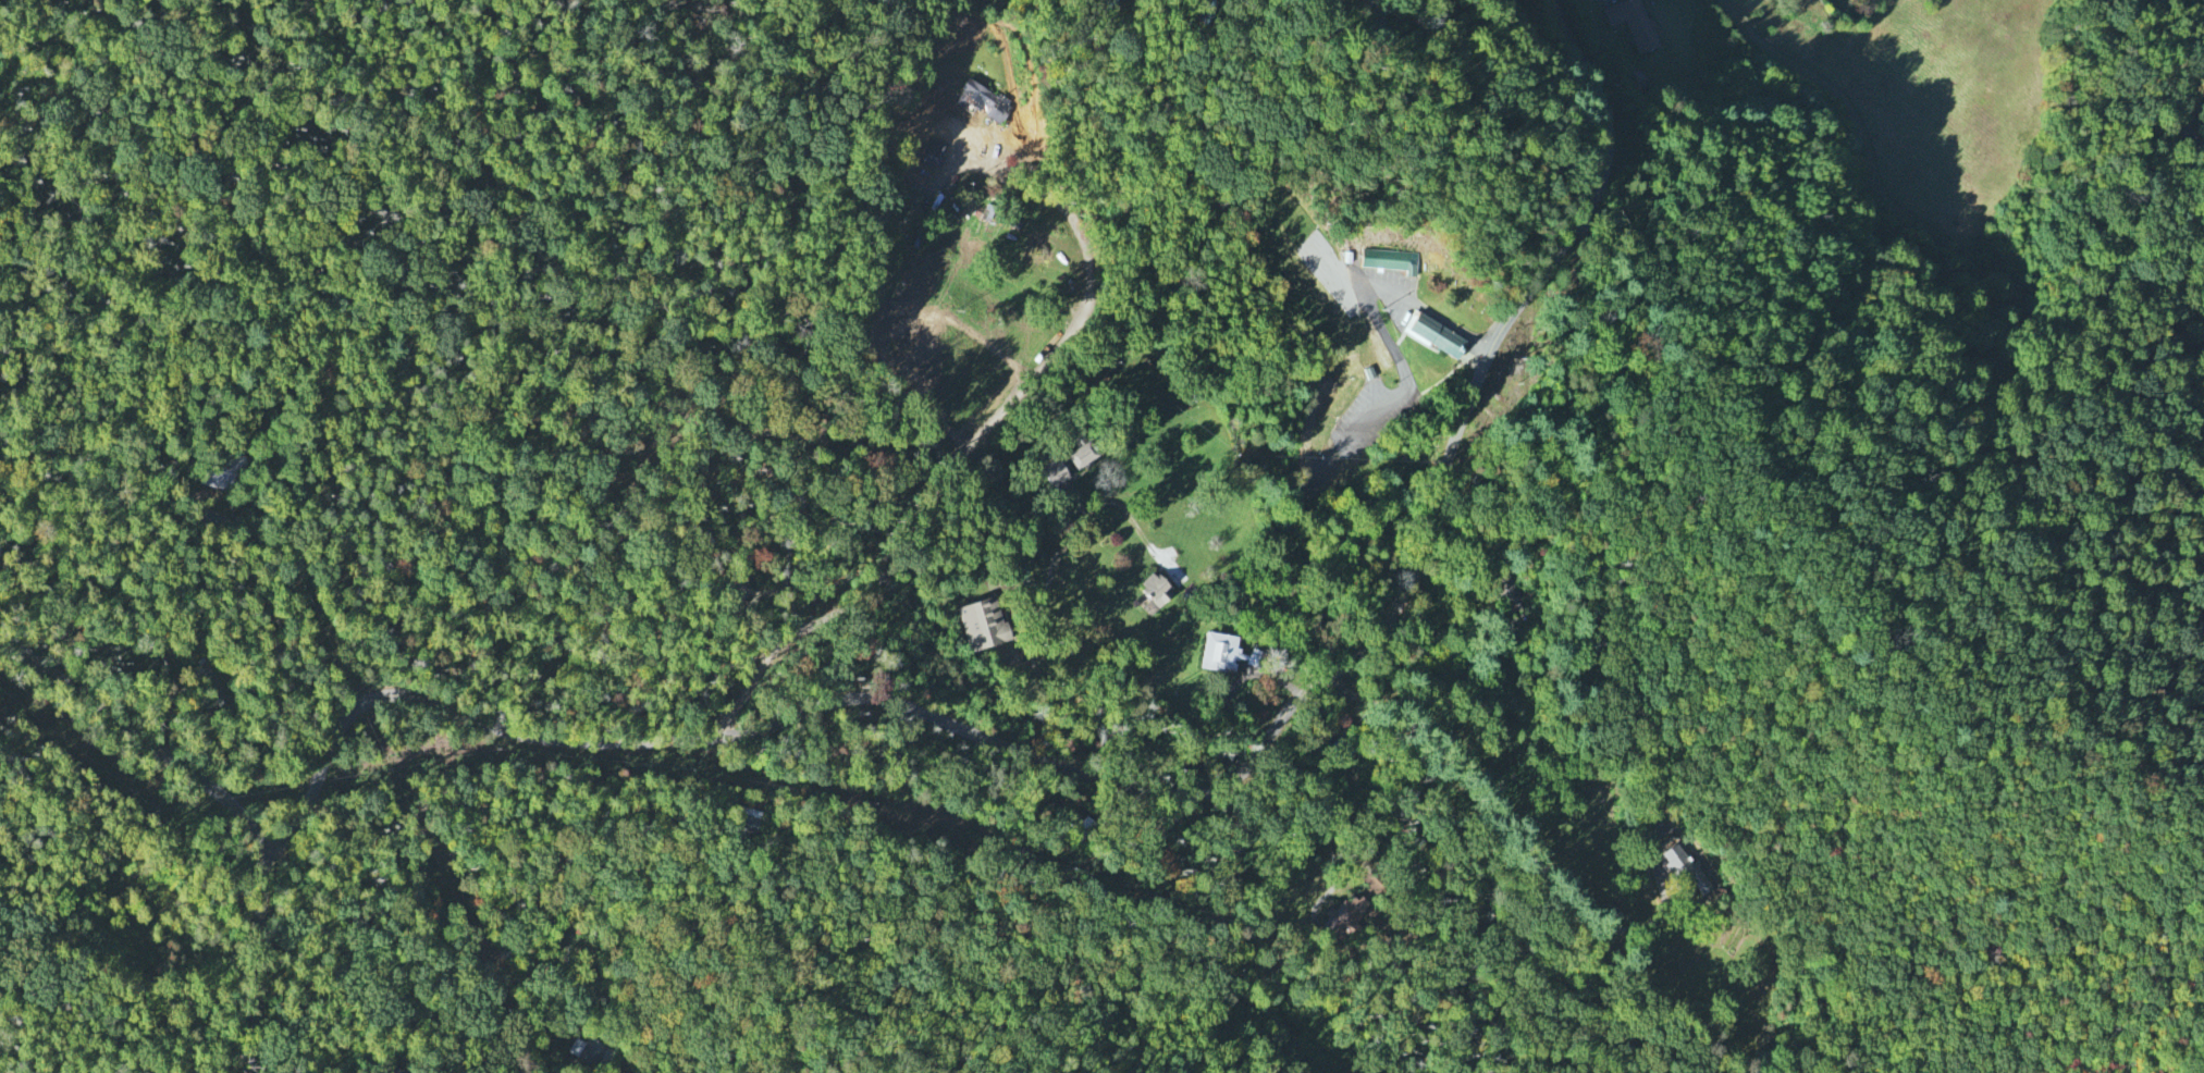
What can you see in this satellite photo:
building: (1635, 22)
road: (1536, 91)
building: (987, 99)
road: (2189, 122)
building: (933, 150)
building: (1392, 259)
park: (1458, 288)
building: (1438, 332)
road: (1043, 366)
building: (1083, 452)
building: (1056, 469)
building: (223, 470)
building: (1157, 587)
building: (1509, 589)
building: (984, 620)
road: (796, 645)
building: (1224, 650)
road: (1037, 671)
road: (1146, 785)
road: (229, 801)
road: (1525, 851)
building: (1687, 866)
building: (1345, 913)
building: (591, 1050)

